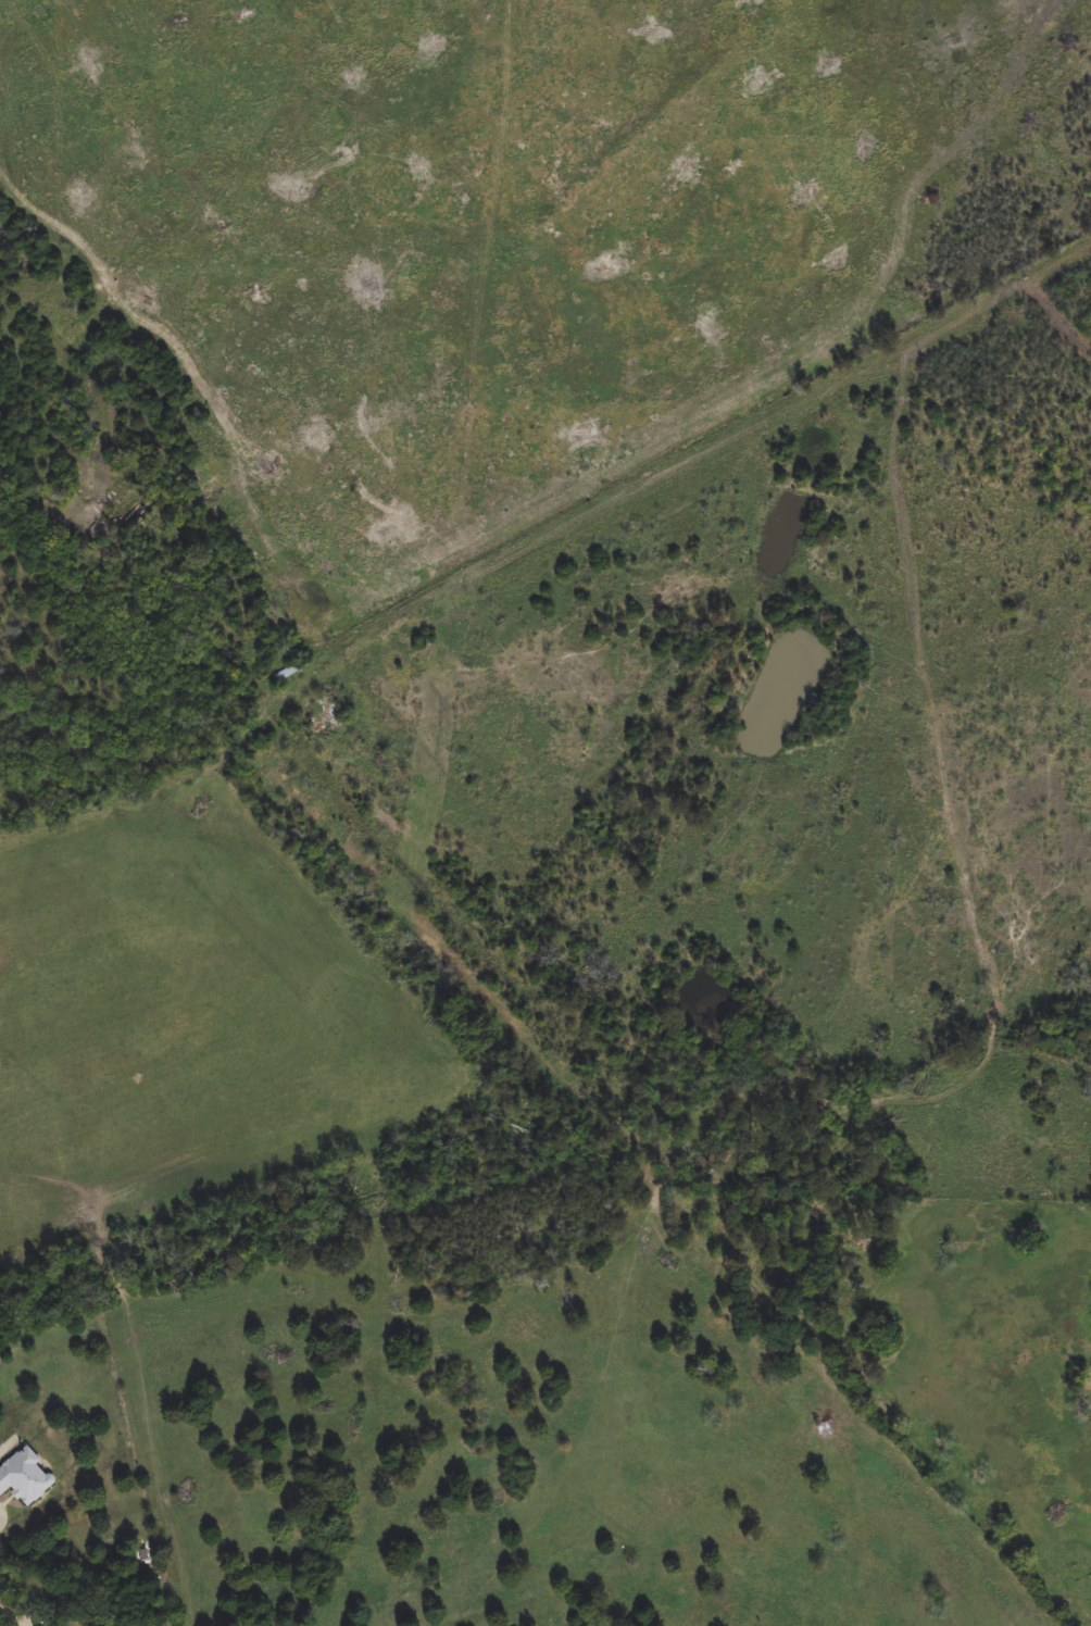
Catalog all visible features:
building: (26, 1477)
road: (15, 1616)

